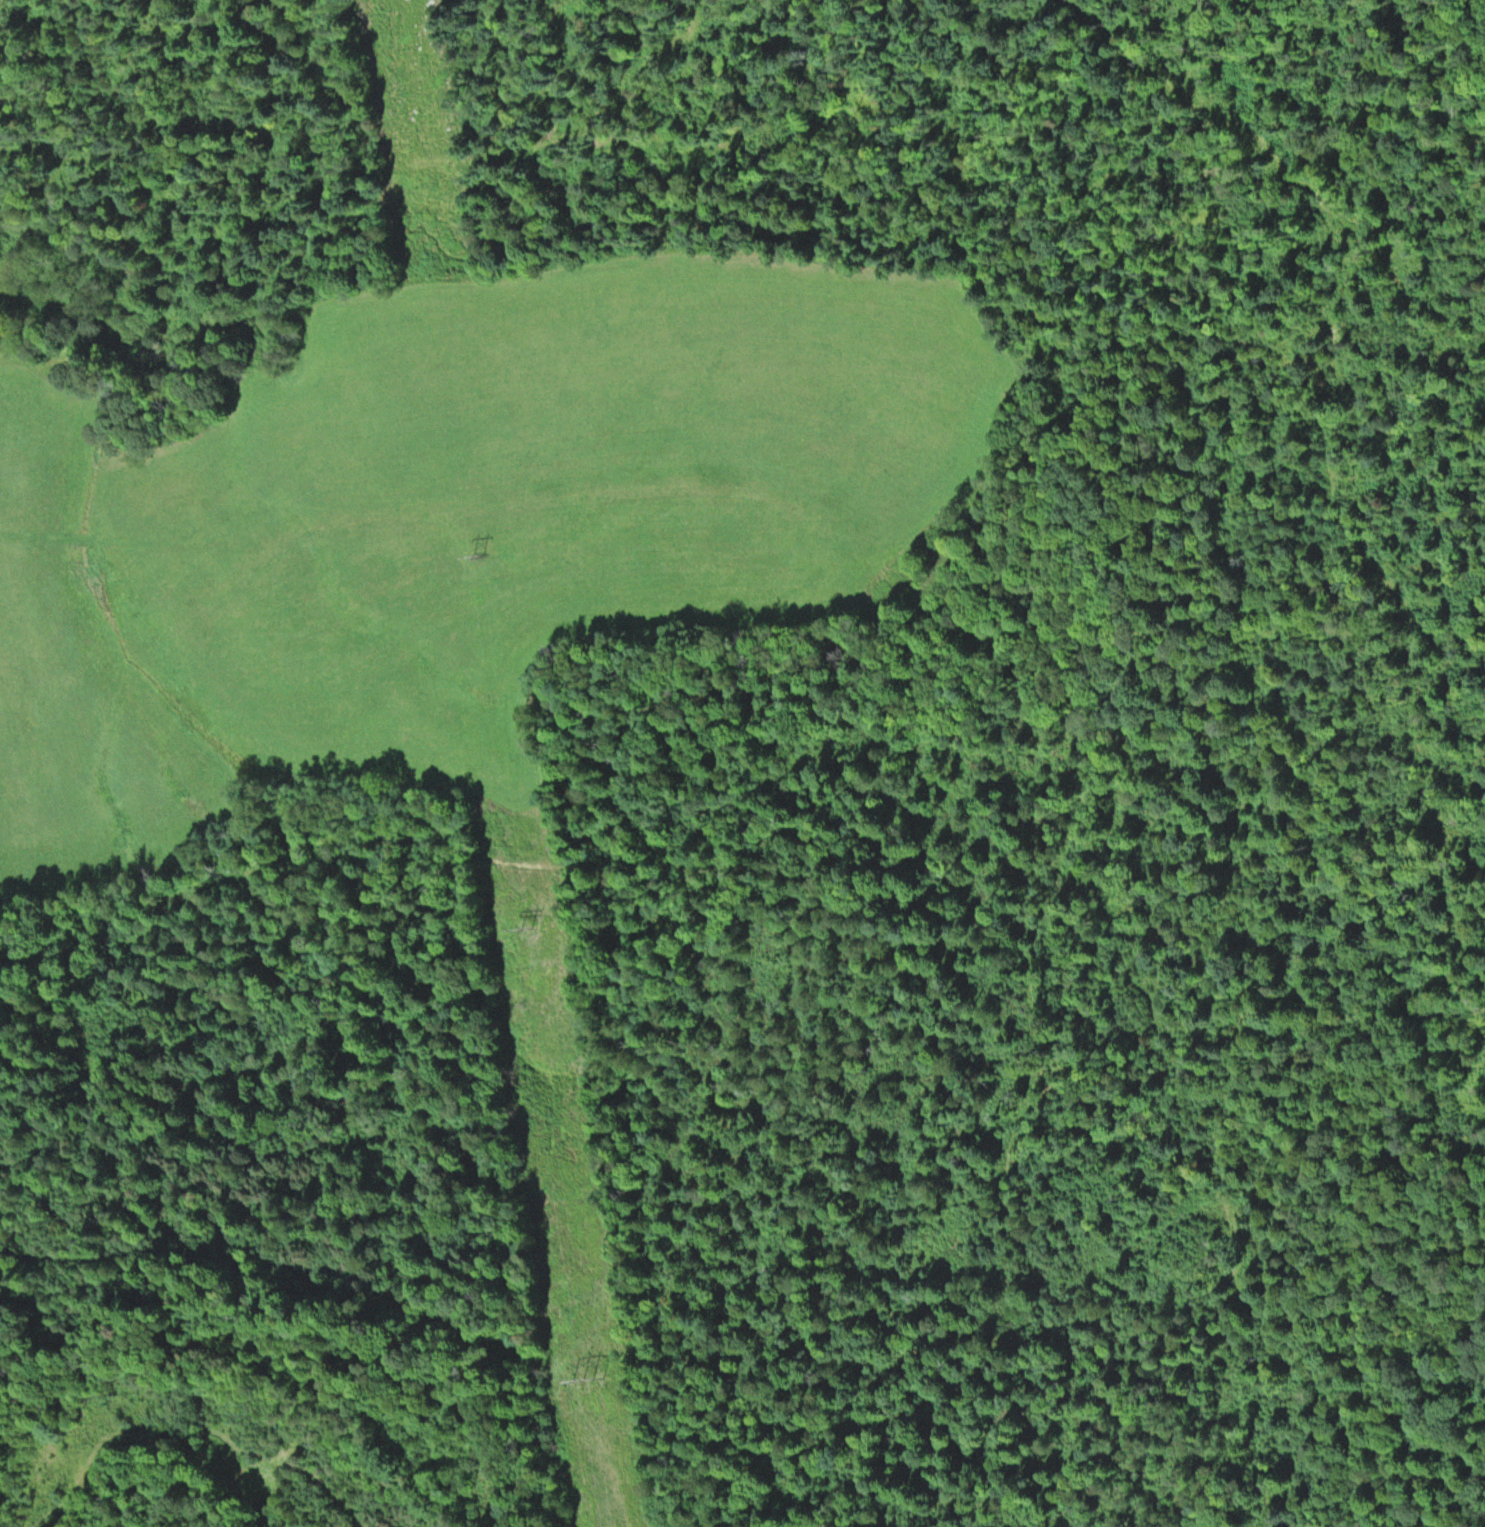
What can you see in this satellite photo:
power tower: (473, 552)
road: (562, 863)
power tower: (525, 926)
road: (116, 942)
power tower: (583, 1376)

